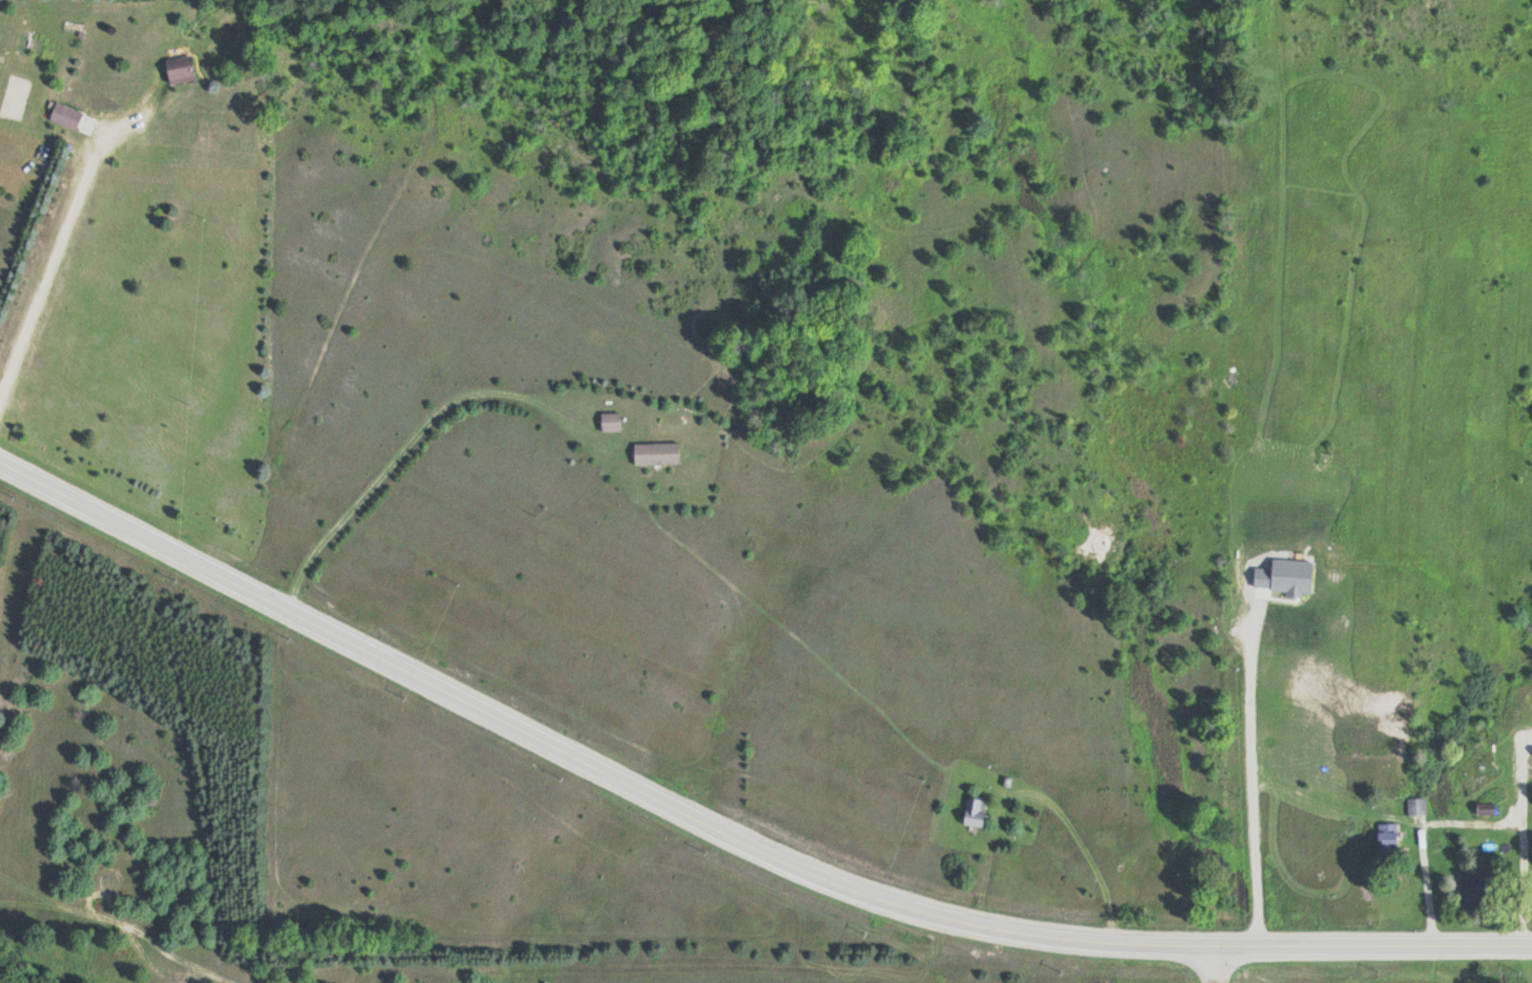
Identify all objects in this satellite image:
building: (175, 70)
building: (61, 115)
building: (607, 422)
building: (653, 453)
building: (1414, 806)
building: (1482, 808)
building: (971, 812)
road: (730, 834)
building: (1384, 839)
road: (1219, 964)

